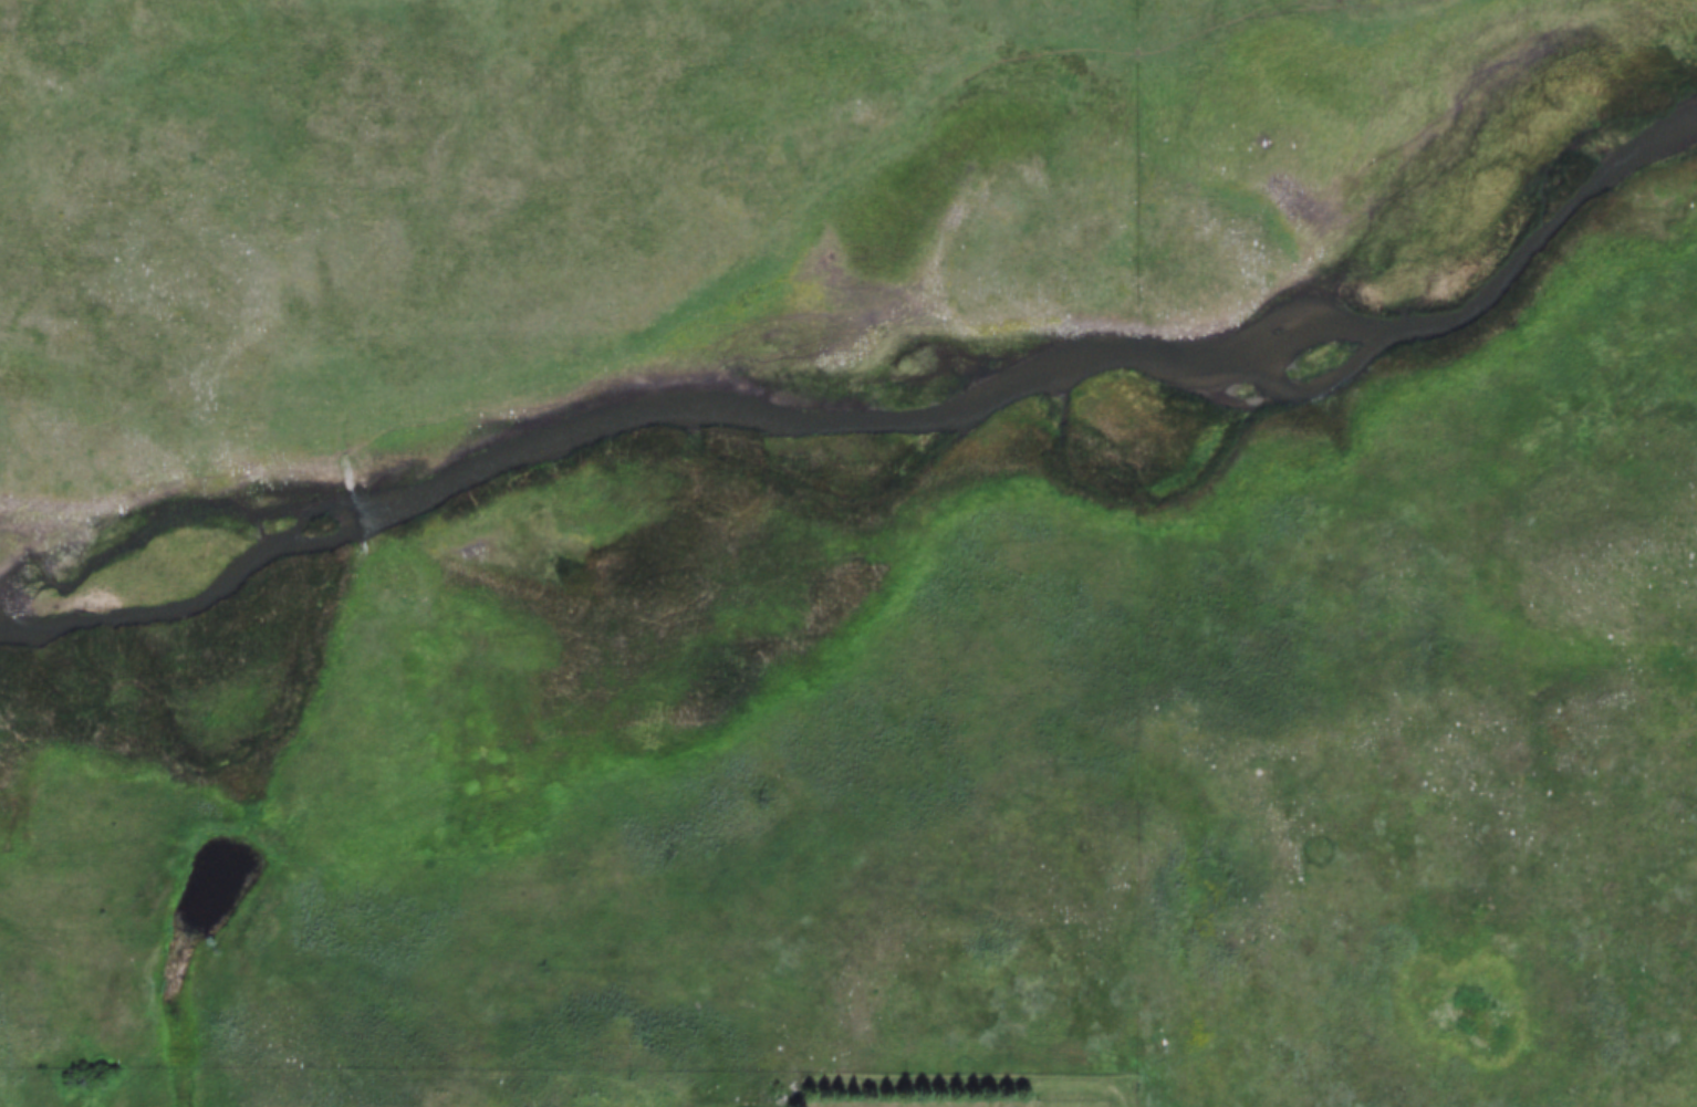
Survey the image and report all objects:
road: (1071, 1074)

